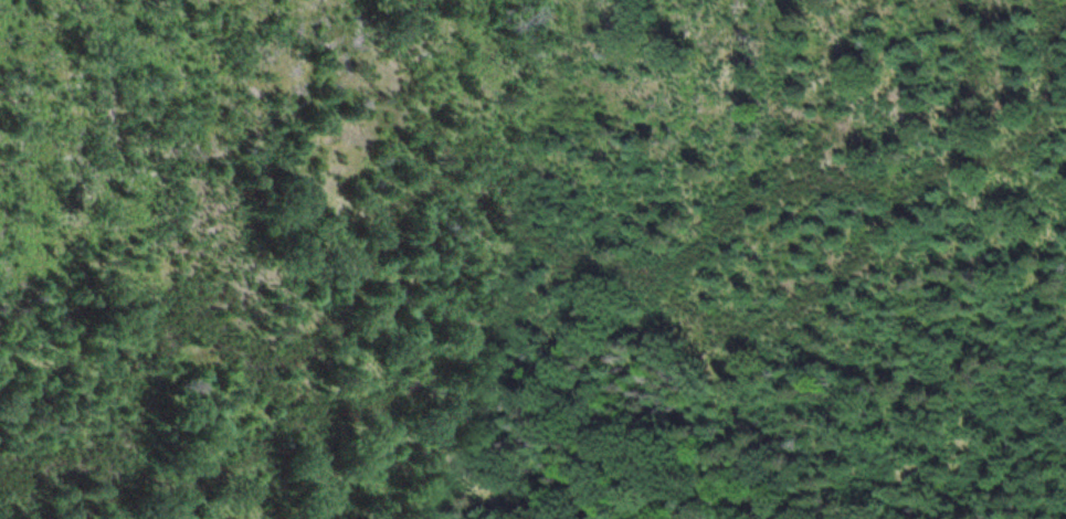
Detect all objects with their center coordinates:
road: (483, 280)

